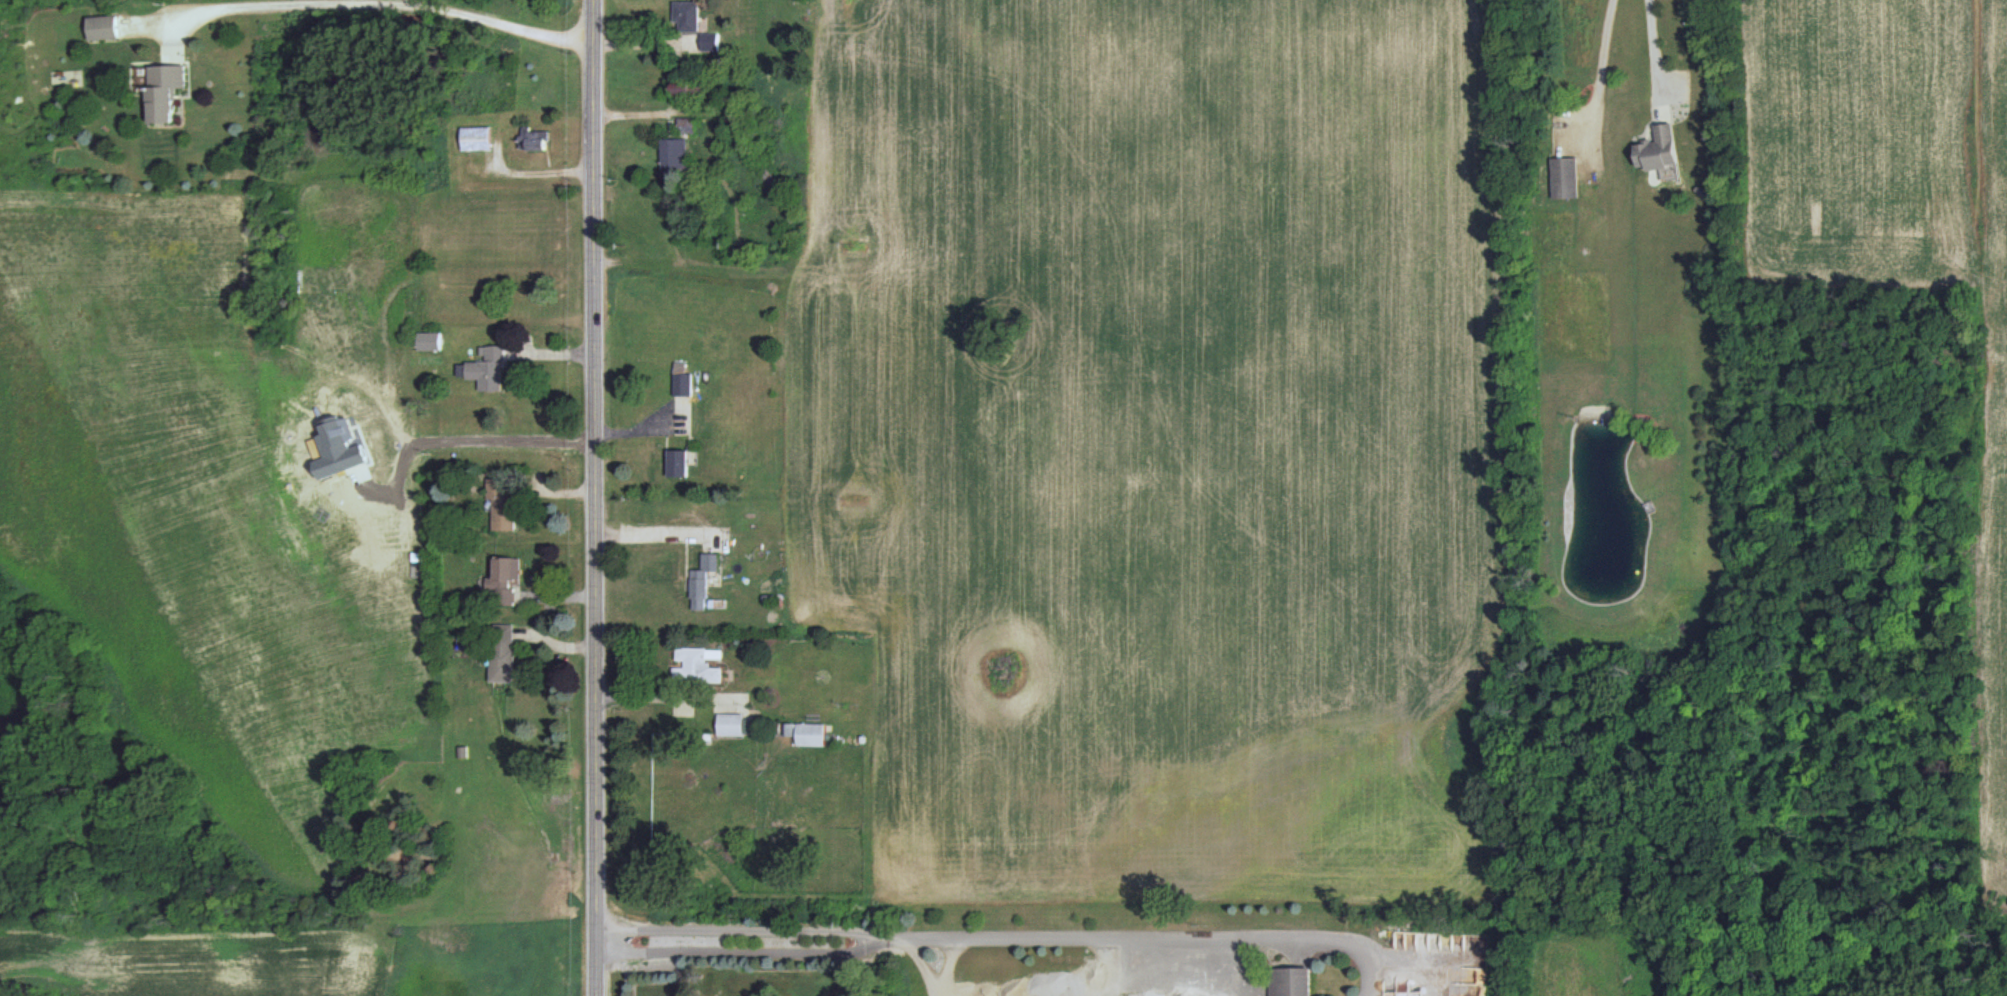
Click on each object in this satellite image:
road: (388, 5)
building: (687, 15)
building: (103, 27)
building: (710, 41)
road: (1653, 54)
road: (1598, 78)
building: (689, 88)
building: (164, 90)
building: (687, 125)
crop: (1853, 137)
building: (476, 138)
building: (533, 139)
building: (1658, 149)
building: (674, 155)
building: (1564, 177)
building: (429, 340)
building: (486, 369)
building: (681, 379)
crop: (1153, 442)
building: (678, 463)
crop: (1995, 464)
road: (597, 497)
building: (501, 505)
road: (661, 532)
building: (505, 579)
building: (703, 580)
building: (502, 652)
building: (696, 665)
road: (670, 696)
building: (730, 724)
building: (810, 734)
road: (1060, 936)
road: (1309, 937)
road: (600, 939)
building: (1290, 981)

